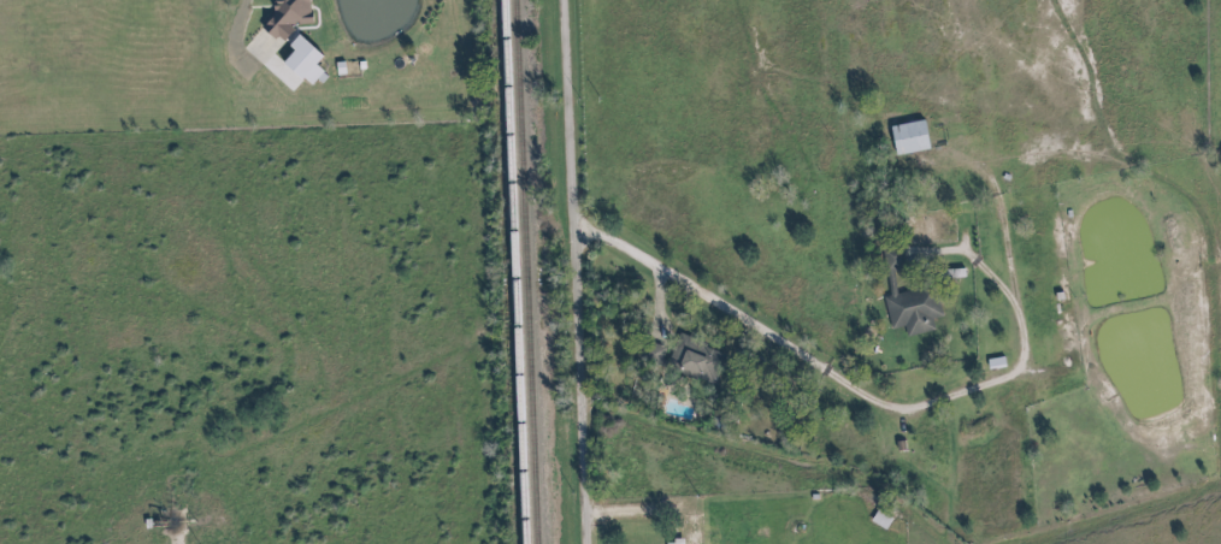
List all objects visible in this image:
building: (904, 135)
building: (893, 261)
railway: (530, 272)
road: (580, 272)
building: (907, 301)
building: (653, 355)
building: (685, 356)
road: (857, 383)
road: (636, 509)
building: (694, 531)
road: (188, 538)

